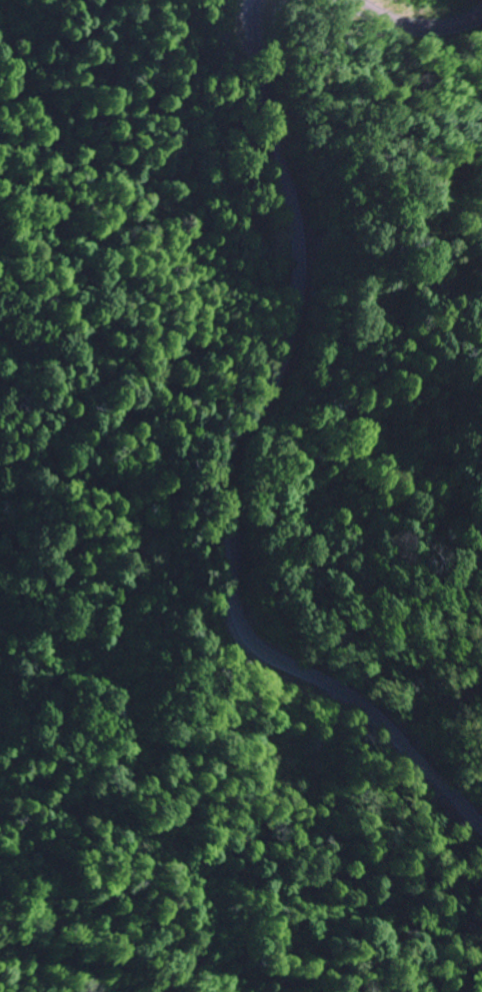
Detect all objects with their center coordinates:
road: (410, 33)
road: (240, 468)

